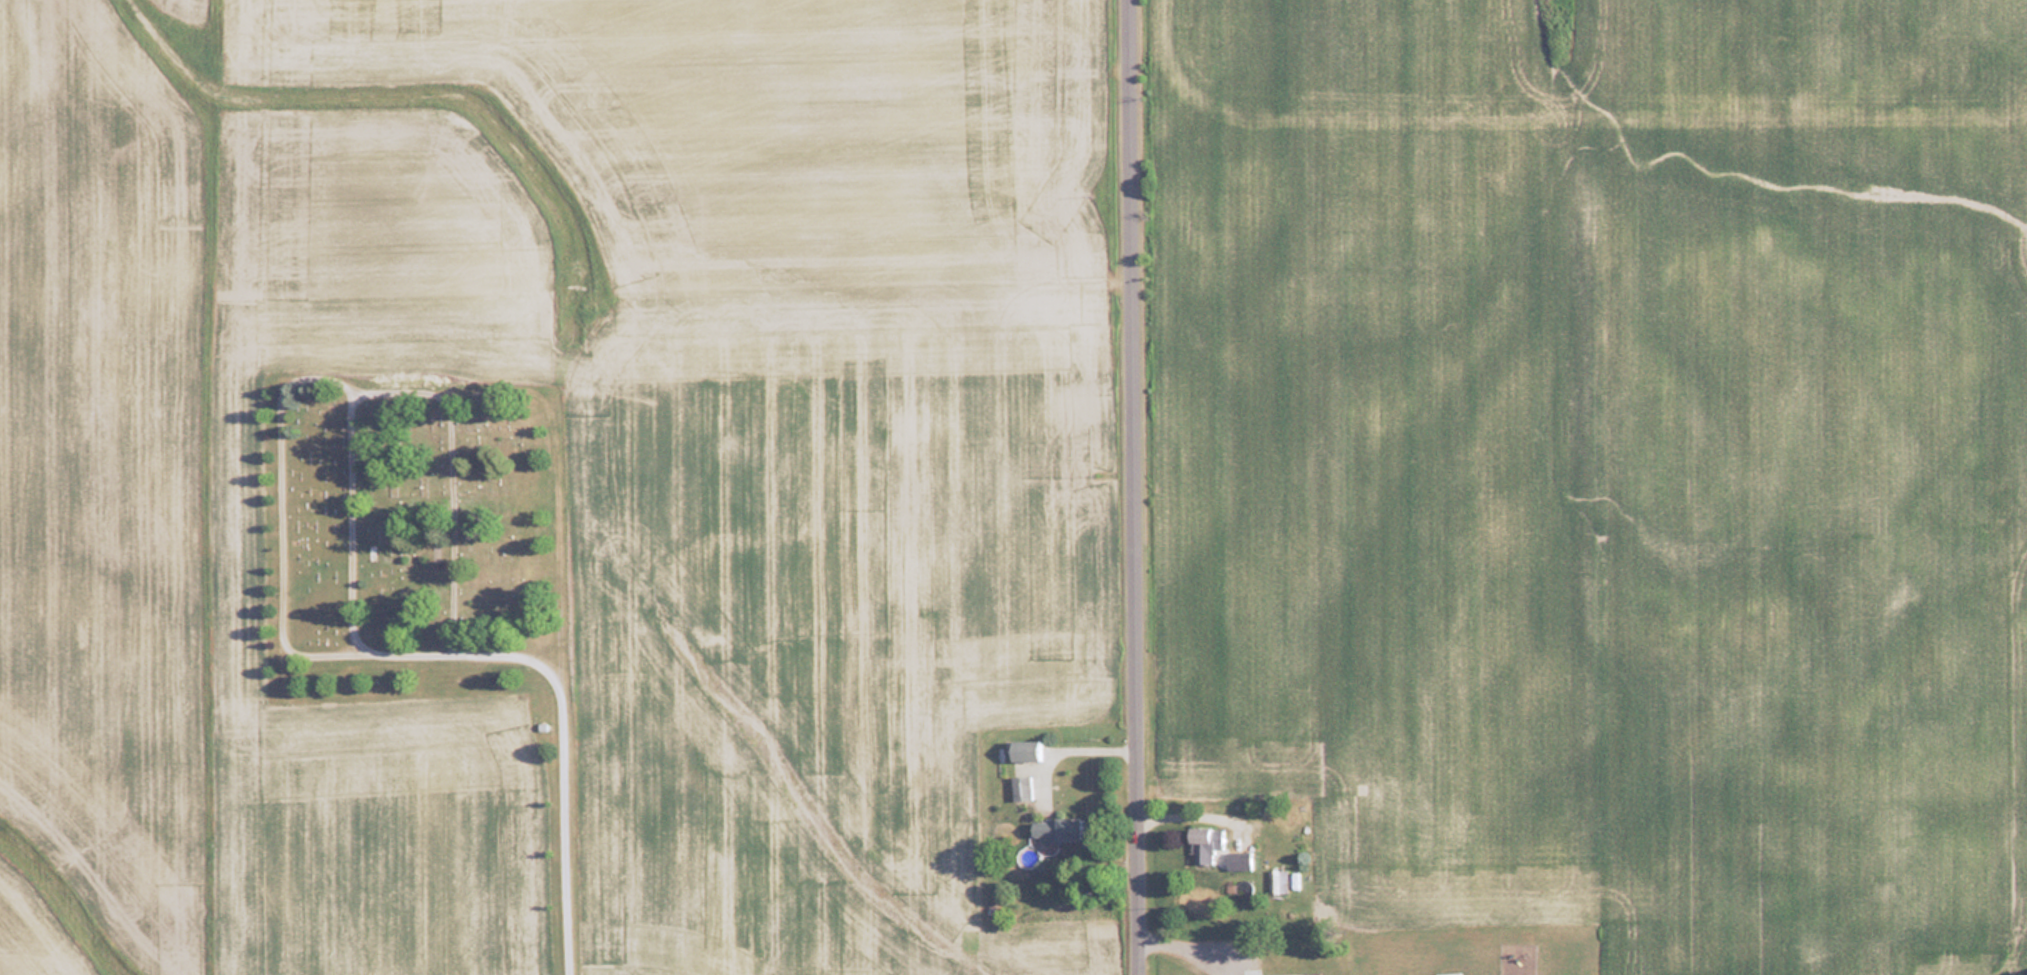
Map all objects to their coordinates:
road: (1131, 487)
park: (413, 534)
road: (566, 731)
building: (1023, 750)
building: (1021, 787)
building: (1055, 829)
building: (1203, 845)
building: (1238, 861)

